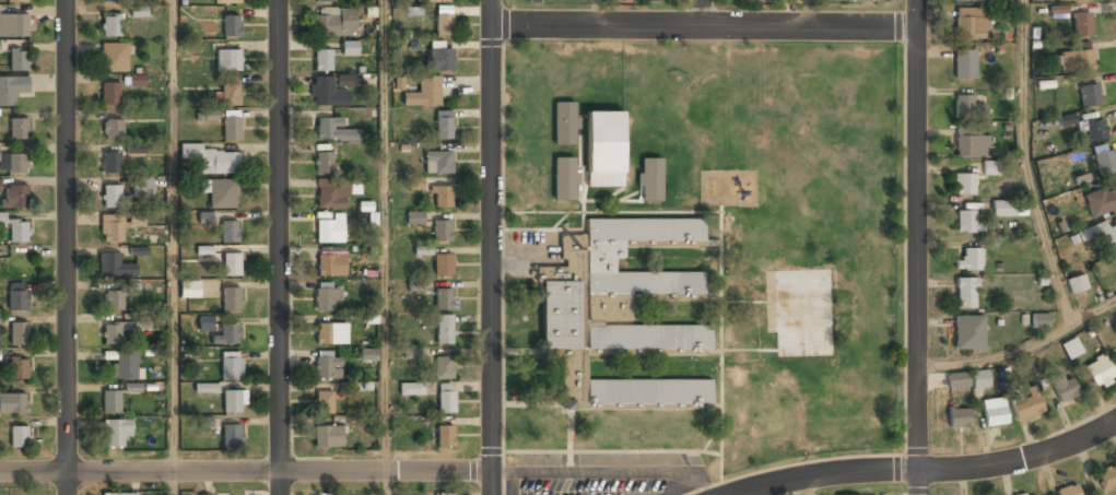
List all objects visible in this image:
building: (651, 0)
building: (861, 0)
building: (967, 0)
building: (1072, 0)
building: (16, 1)
building: (111, 1)
building: (325, 1)
building: (437, 1)
building: (534, 1)
building: (748, 1)
building: (227, 2)
building: (140, 11)
building: (1058, 11)
road: (596, 12)
road: (702, 13)
road: (808, 13)
building: (970, 23)
building: (1081, 23)
building: (336, 24)
building: (13, 25)
building: (444, 25)
building: (110, 26)
building: (232, 26)
road: (704, 26)
building: (350, 47)
building: (0, 48)
building: (113, 58)
building: (439, 59)
building: (1074, 59)
building: (19, 60)
building: (228, 60)
building: (322, 61)
building: (964, 63)
building: (138, 80)
building: (345, 81)
building: (12, 90)
building: (423, 93)
building: (109, 94)
building: (228, 94)
building: (327, 94)
building: (1089, 94)
building: (967, 107)
building: (207, 115)
building: (1067, 120)
building: (564, 122)
building: (444, 126)
building: (232, 128)
building: (19, 129)
building: (1093, 129)
building: (111, 130)
building: (333, 130)
building: (970, 142)
building: (602, 149)
building: (134, 150)
building: (211, 160)
building: (110, 163)
building: (322, 163)
building: (437, 163)
building: (1105, 163)
building: (13, 164)
road: (1025, 164)
building: (990, 167)
building: (563, 178)
building: (650, 179)
building: (416, 184)
building: (964, 184)
building: (142, 188)
building: (334, 192)
building: (222, 193)
building: (111, 196)
building: (15, 197)
building: (442, 197)
building: (1111, 198)
building: (1002, 208)
building: (2, 217)
building: (205, 217)
building: (415, 217)
building: (966, 222)
building: (111, 228)
building: (329, 231)
building: (442, 231)
building: (19, 232)
building: (228, 233)
building: (1099, 235)
road: (171, 236)
road: (385, 236)
road: (68, 247)
road: (279, 247)
road: (492, 247)
road: (916, 247)
building: (204, 250)
building: (423, 250)
building: (970, 260)
building: (330, 261)
building: (232, 264)
building: (442, 266)
building: (114, 267)
building: (1077, 283)
building: (416, 285)
building: (190, 288)
building: (965, 294)
building: (17, 296)
building: (326, 297)
building: (231, 298)
building: (443, 299)
building: (113, 300)
building: (616, 313)
building: (1039, 320)
building: (207, 323)
building: (445, 330)
building: (17, 332)
building: (114, 332)
building: (331, 333)
building: (968, 333)
building: (226, 335)
road: (1021, 349)
building: (1071, 349)
building: (413, 352)
building: (0, 354)
building: (369, 354)
building: (327, 364)
building: (231, 365)
building: (125, 366)
building: (444, 368)
building: (19, 369)
building: (1099, 372)
building: (979, 379)
building: (956, 380)
building: (1064, 387)
building: (207, 388)
building: (412, 389)
building: (446, 399)
building: (111, 402)
building: (233, 402)
building: (324, 402)
building: (13, 404)
building: (1026, 408)
building: (995, 413)
building: (959, 419)
building: (116, 433)
building: (231, 436)
building: (19, 437)
building: (328, 437)
building: (445, 437)
road: (927, 468)
road: (34, 472)
road: (280, 472)
parking lot: (604, 474)
building: (1106, 476)
road: (172, 483)
road: (385, 483)
road: (809, 486)
building: (1068, 490)
building: (119, 494)
building: (224, 494)
building: (324, 494)
building: (1031, 494)

